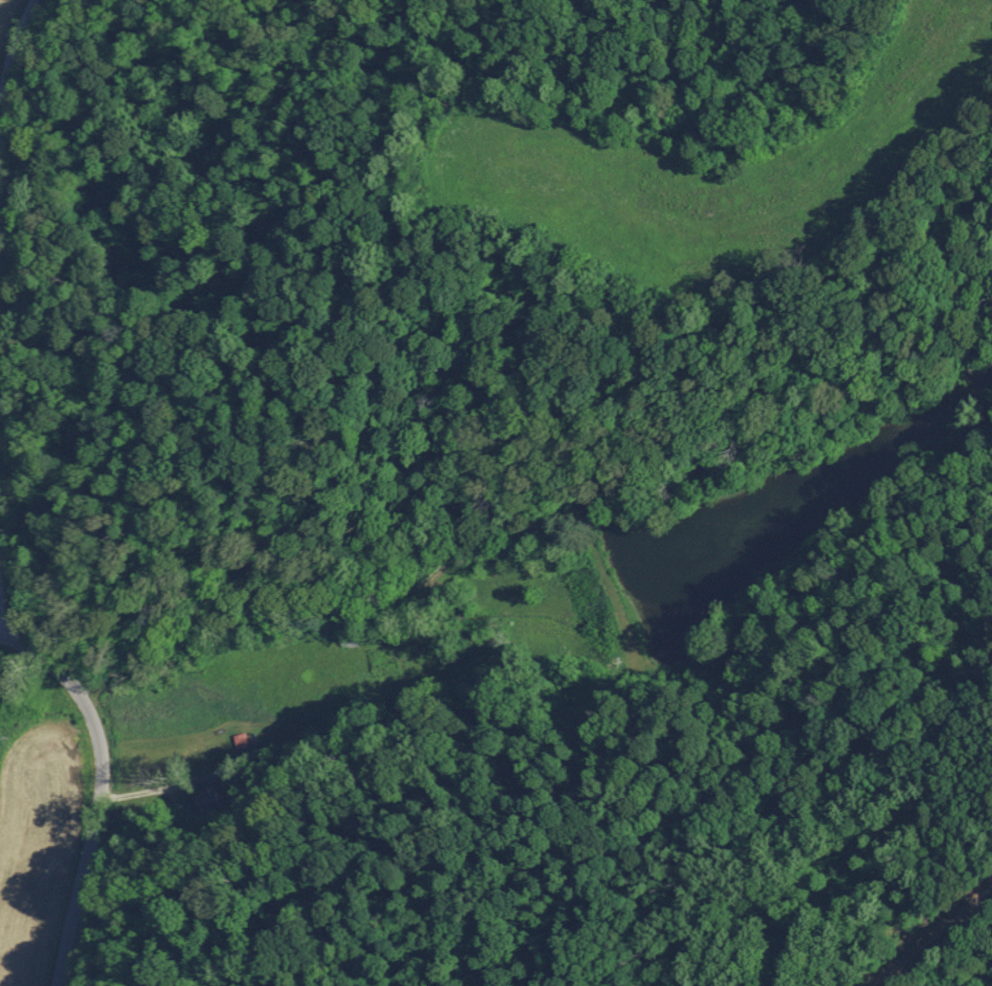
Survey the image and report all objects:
road: (11, 51)
road: (263, 624)
road: (98, 790)

